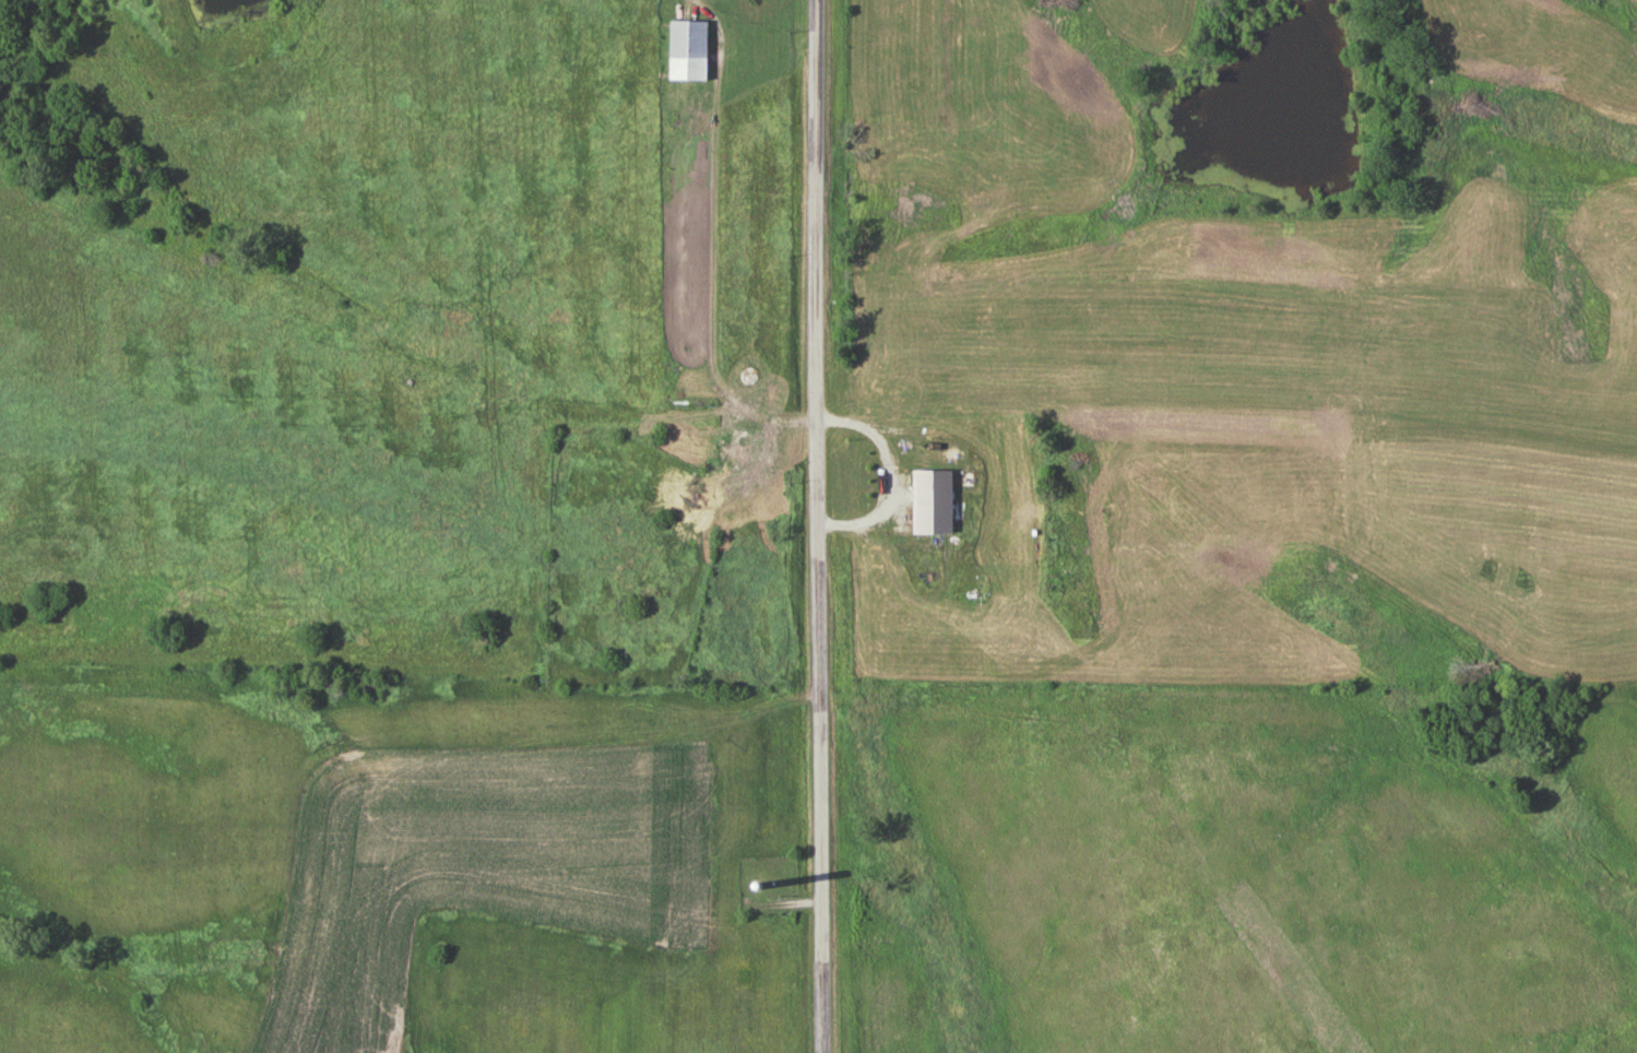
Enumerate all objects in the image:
building: (690, 51)
building: (751, 377)
building: (738, 454)
building: (936, 504)
road: (822, 526)

